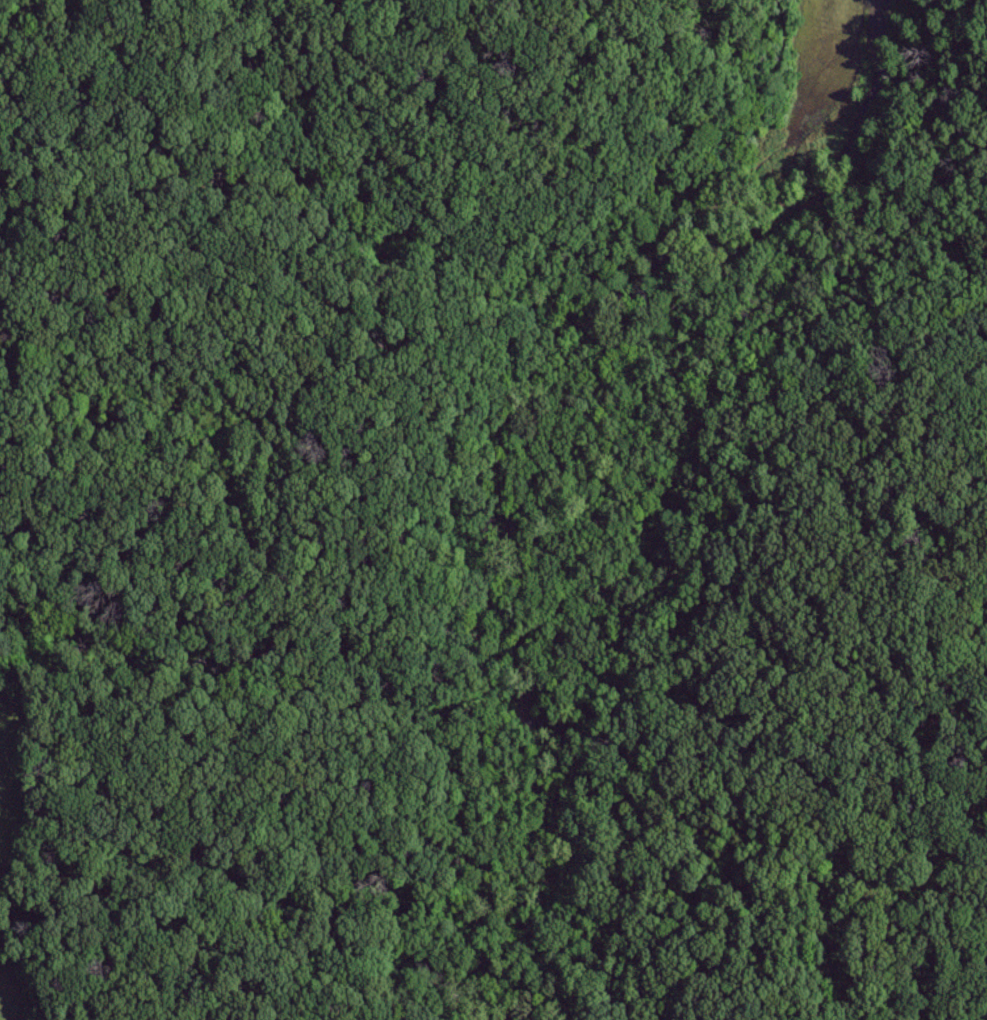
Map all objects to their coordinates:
road: (697, 329)

